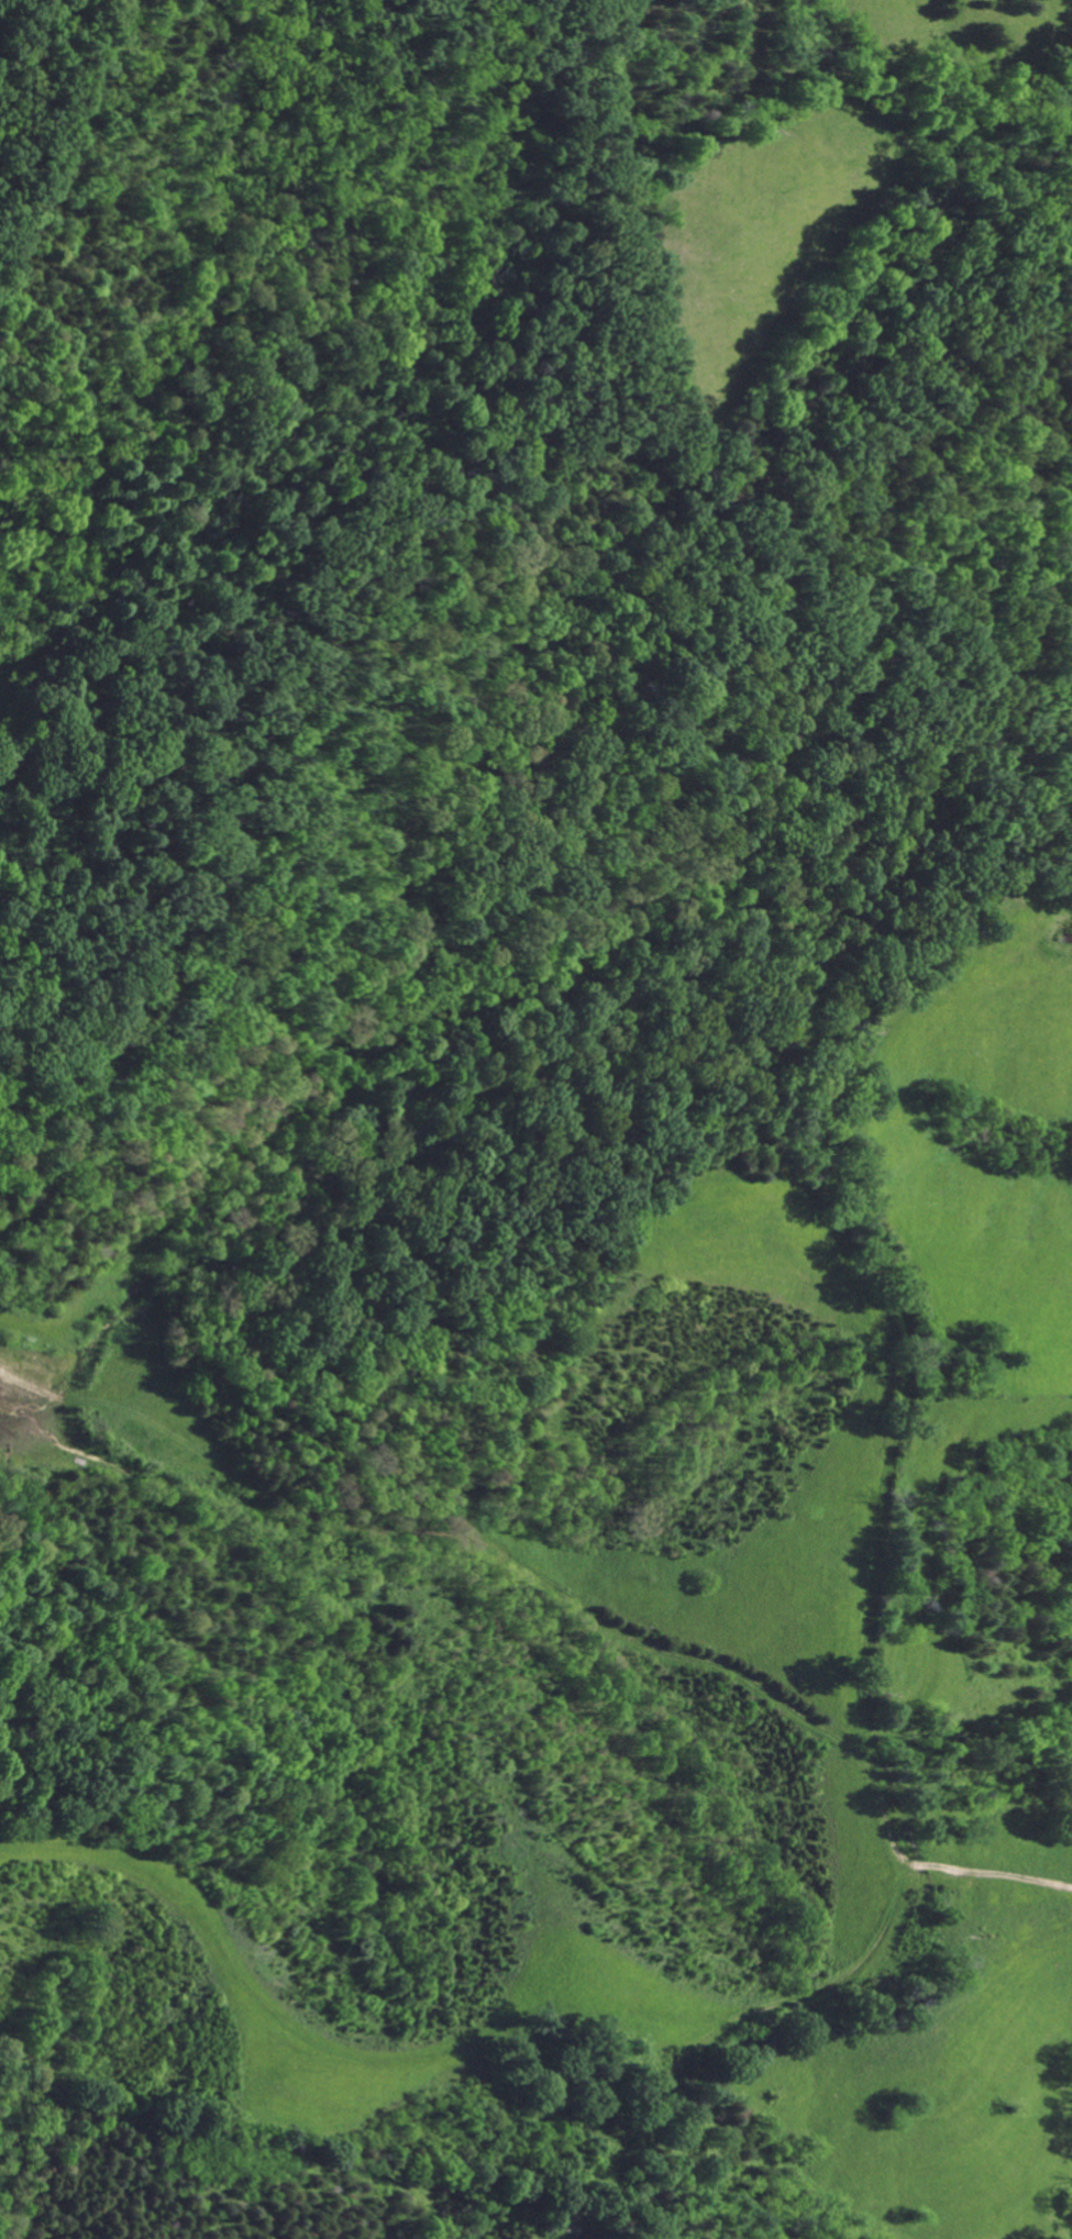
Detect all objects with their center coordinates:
road: (1009, 1877)
road: (860, 1987)

